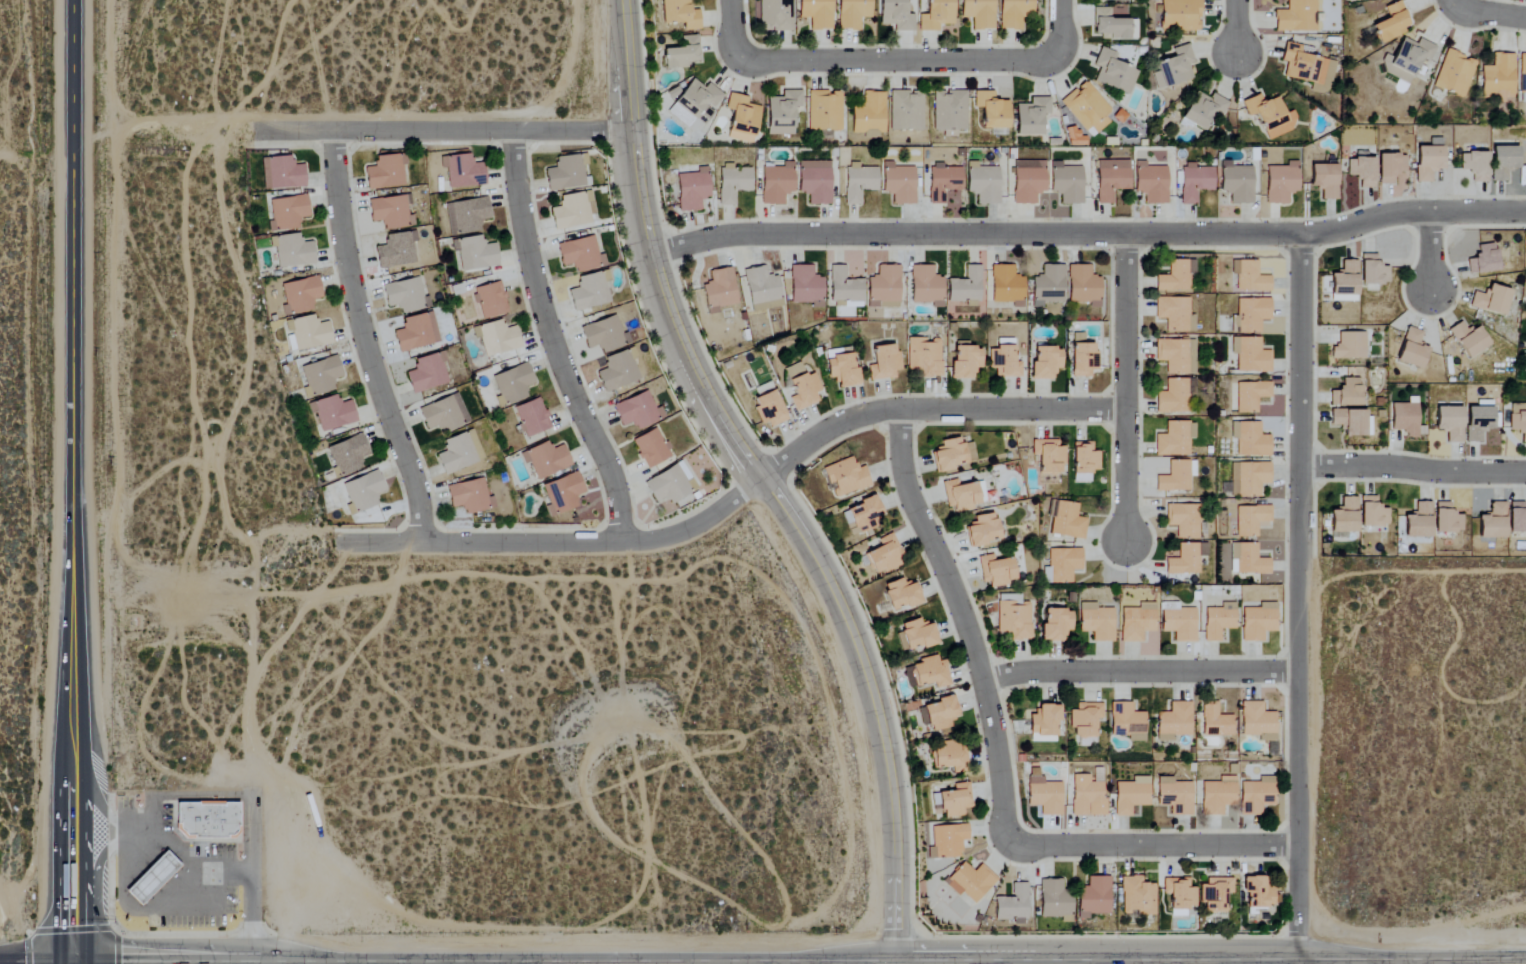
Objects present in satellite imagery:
building: (1113, 0)
road: (1491, 12)
building: (816, 13)
building: (852, 13)
building: (978, 13)
building: (1013, 13)
building: (678, 14)
building: (774, 15)
building: (895, 15)
building: (935, 15)
building: (1180, 15)
building: (1296, 17)
building: (1392, 24)
building: (1108, 26)
road: (1062, 29)
road: (1237, 29)
building: (1132, 30)
road: (734, 35)
building: (682, 54)
road: (905, 61)
building: (1307, 68)
building: (1173, 69)
building: (1113, 73)
building: (1455, 74)
building: (1523, 74)
building: (1499, 79)
building: (696, 102)
building: (1086, 108)
building: (824, 111)
building: (906, 111)
building: (949, 111)
building: (991, 111)
building: (1203, 111)
building: (782, 113)
building: (869, 116)
building: (1270, 116)
building: (1031, 117)
building: (741, 118)
road: (421, 132)
building: (1428, 163)
building: (1504, 163)
building: (1475, 166)
building: (1390, 168)
building: (462, 170)
building: (384, 172)
building: (1362, 172)
building: (281, 173)
building: (564, 173)
building: (1111, 179)
building: (1028, 181)
building: (1324, 181)
building: (815, 182)
building: (858, 182)
building: (943, 182)
building: (1195, 182)
building: (1067, 183)
building: (1151, 183)
building: (1236, 183)
building: (1281, 183)
building: (732, 184)
building: (776, 184)
building: (898, 184)
building: (982, 184)
building: (692, 190)
building: (287, 211)
building: (570, 211)
building: (390, 212)
building: (466, 215)
road: (1089, 235)
building: (292, 250)
building: (396, 250)
building: (476, 253)
building: (579, 253)
road: (1430, 253)
building: (1484, 259)
building: (1373, 270)
building: (1174, 276)
building: (1249, 276)
building: (1344, 281)
building: (804, 284)
building: (925, 284)
building: (884, 285)
building: (965, 285)
building: (1006, 285)
building: (1048, 285)
building: (844, 288)
building: (761, 289)
building: (718, 290)
building: (588, 291)
building: (300, 294)
building: (403, 295)
building: (1492, 299)
building: (490, 300)
building: (874, 309)
building: (1173, 313)
building: (1250, 315)
building: (308, 332)
building: (416, 332)
building: (602, 334)
building: (496, 337)
road: (366, 339)
building: (1469, 339)
road: (553, 341)
building: (1349, 346)
building: (1412, 348)
building: (1172, 355)
building: (1251, 355)
building: (924, 356)
building: (1082, 356)
building: (1191, 356)
building: (1003, 359)
building: (964, 361)
building: (883, 362)
building: (1045, 362)
building: (841, 369)
building: (617, 371)
building: (427, 373)
building: (320, 375)
building: (512, 384)
building: (801, 386)
road: (1125, 388)
road: (73, 389)
building: (1346, 393)
building: (1251, 395)
building: (1172, 396)
building: (459, 407)
building: (768, 409)
building: (637, 410)
building: (332, 412)
building: (440, 414)
building: (532, 417)
building: (1405, 419)
building: (1518, 419)
building: (1352, 421)
building: (1478, 421)
building: (1450, 422)
building: (1175, 438)
building: (1250, 439)
building: (649, 448)
building: (348, 454)
building: (455, 454)
building: (952, 454)
building: (1048, 456)
building: (546, 459)
building: (1084, 462)
road: (1412, 469)
building: (1176, 476)
building: (846, 477)
building: (1248, 478)
road: (765, 481)
building: (670, 483)
building: (362, 492)
building: (562, 494)
road: (736, 494)
building: (960, 495)
building: (469, 496)
building: (1372, 512)
building: (1344, 516)
building: (1517, 517)
building: (1447, 518)
building: (1251, 519)
building: (1067, 520)
building: (1183, 520)
building: (1419, 521)
building: (1493, 522)
building: (982, 529)
building: (885, 555)
building: (1184, 560)
building: (1247, 560)
building: (1062, 565)
building: (995, 570)
building: (901, 594)
road: (1298, 599)
building: (1013, 617)
building: (1096, 621)
building: (1218, 621)
road: (964, 622)
building: (1136, 622)
building: (1257, 622)
building: (1055, 624)
building: (916, 635)
road: (1139, 670)
building: (931, 672)
building: (909, 677)
building: (940, 713)
building: (1085, 719)
building: (1044, 720)
building: (1215, 721)
building: (1257, 721)
building: (1127, 722)
building: (1174, 722)
building: (950, 756)
building: (1131, 795)
building: (1217, 795)
building: (1256, 795)
building: (1044, 796)
building: (1087, 796)
building: (1174, 796)
building: (955, 800)
road: (104, 810)
building: (207, 820)
road: (75, 821)
building: (947, 841)
road: (1152, 846)
road: (108, 848)
road: (191, 863)
building: (153, 877)
gas station: (153, 877)
road: (250, 878)
building: (970, 882)
building: (1257, 893)
building: (1215, 894)
building: (1179, 895)
building: (1094, 896)
building: (1137, 897)
building: (1055, 901)
building: (1012, 904)
road: (76, 913)
road: (130, 913)

